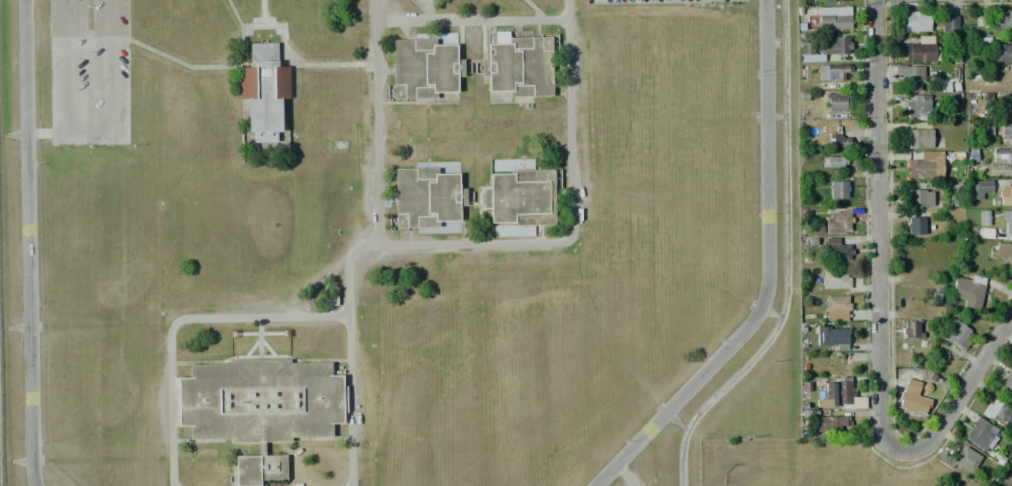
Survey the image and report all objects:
building: (834, 1)
building: (422, 2)
road: (472, 17)
building: (833, 18)
building: (1002, 20)
building: (917, 21)
building: (948, 23)
building: (822, 48)
building: (922, 50)
building: (1003, 53)
building: (518, 66)
building: (423, 68)
building: (832, 71)
building: (909, 76)
building: (1004, 79)
building: (263, 91)
building: (835, 102)
building: (917, 107)
road: (376, 122)
building: (984, 129)
building: (1006, 134)
road: (88, 138)
building: (919, 138)
building: (839, 140)
building: (1001, 155)
building: (833, 162)
building: (916, 169)
building: (979, 188)
building: (837, 189)
building: (1005, 195)
building: (425, 197)
building: (520, 197)
building: (919, 197)
building: (983, 218)
building: (837, 222)
building: (1007, 222)
building: (915, 225)
road: (877, 232)
road: (25, 243)
road: (461, 243)
building: (1000, 250)
building: (836, 251)
road: (766, 276)
building: (836, 279)
building: (968, 290)
building: (836, 308)
road: (179, 320)
building: (911, 328)
building: (959, 333)
building: (832, 338)
building: (1006, 383)
road: (963, 389)
building: (839, 394)
building: (913, 397)
building: (260, 408)
building: (997, 412)
building: (827, 423)
building: (979, 433)
building: (967, 460)
park: (815, 464)

